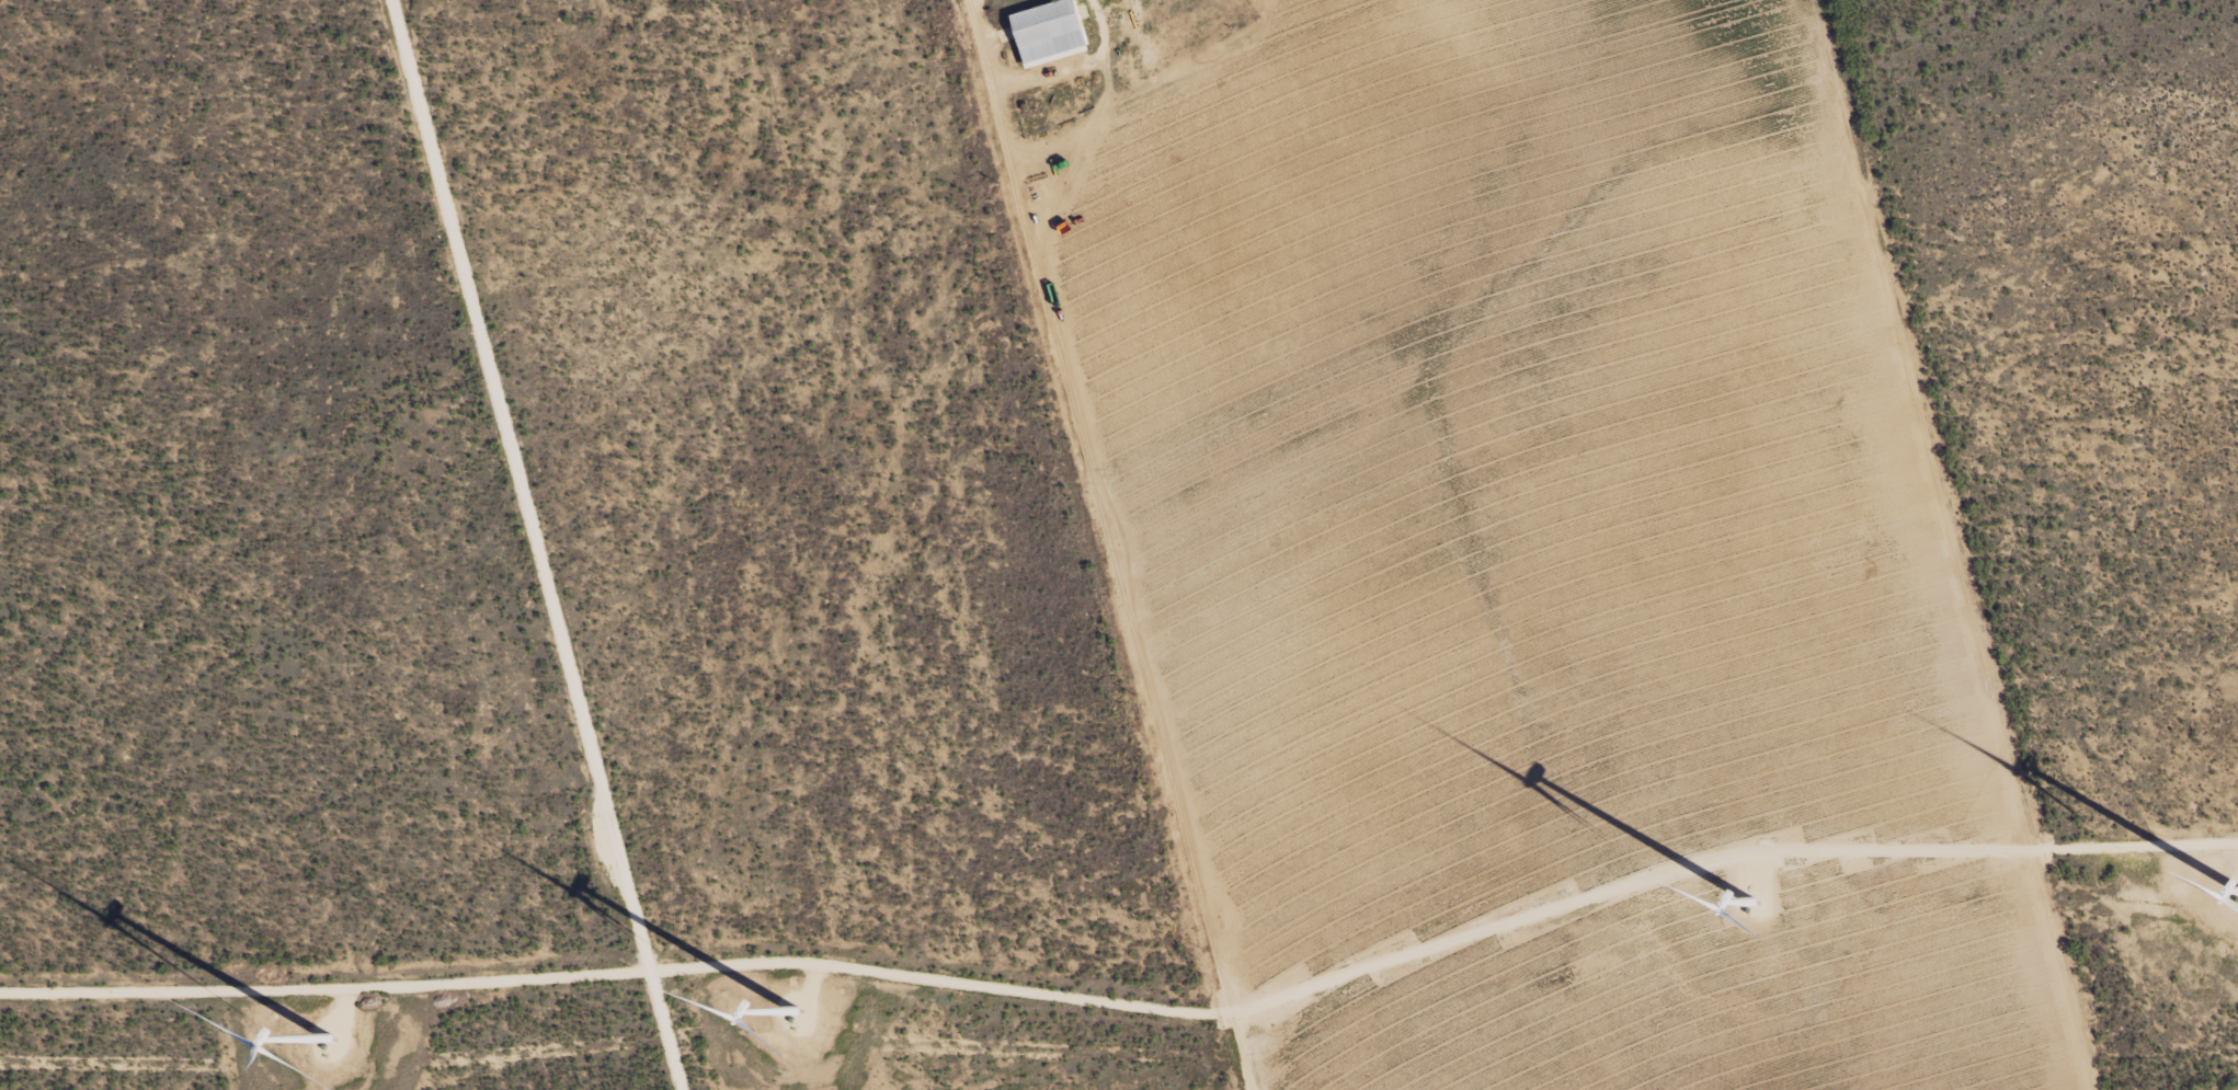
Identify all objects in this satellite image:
building: (1049, 32)
road: (1024, 163)
wind turbine: (2236, 894)
wind turbine: (1756, 908)
wind turbine: (789, 1017)
wind turbine: (327, 1046)

